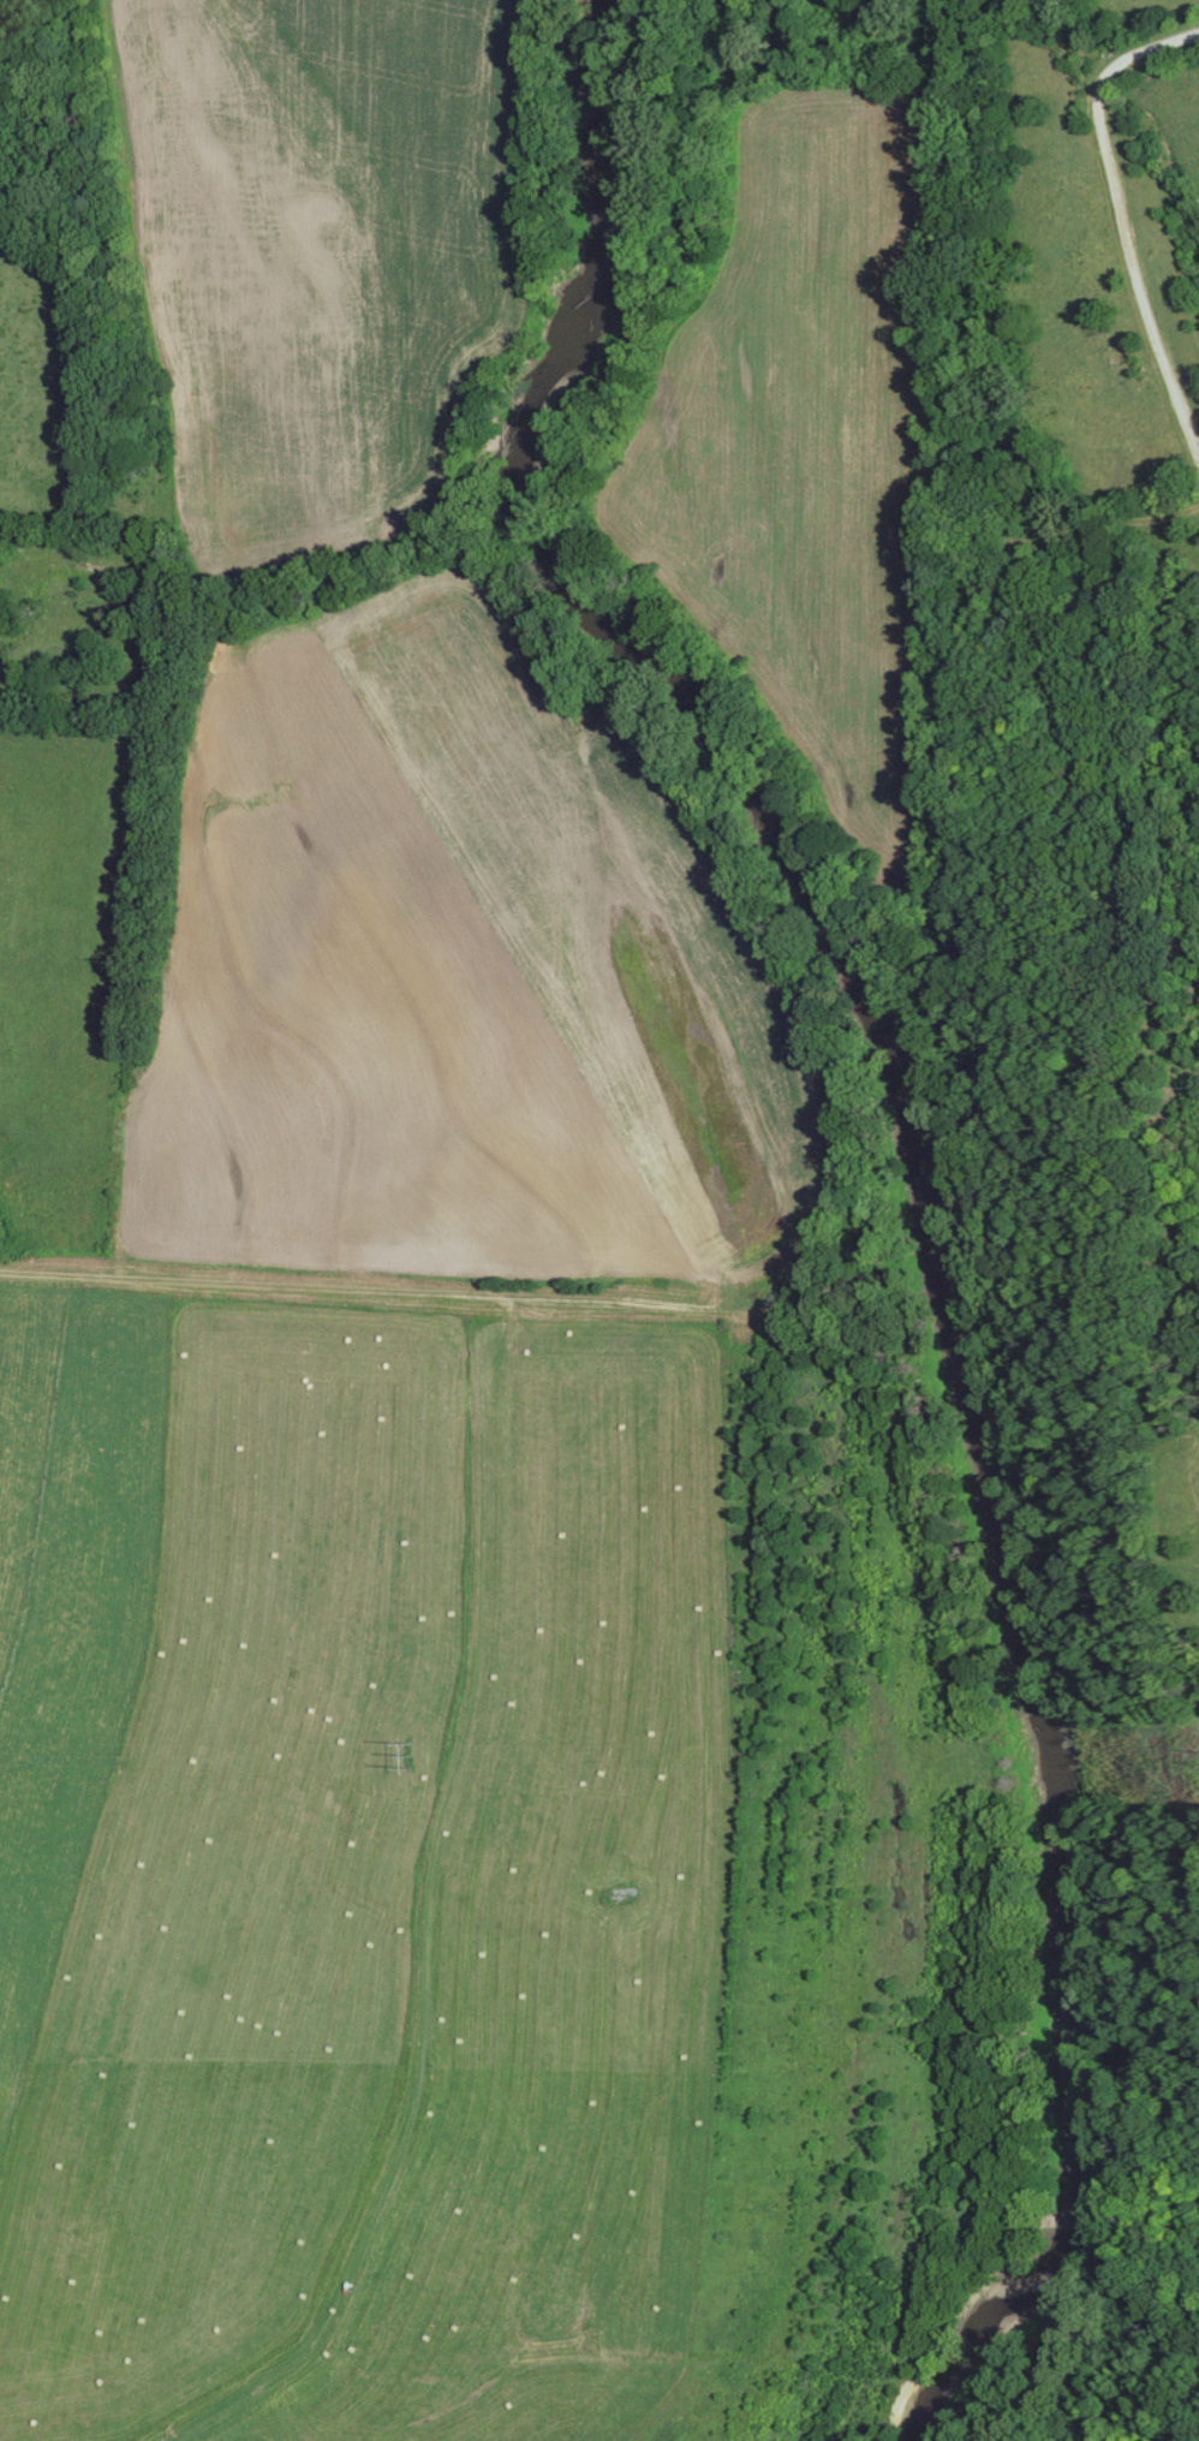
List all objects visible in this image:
road: (1122, 214)
road: (836, 1126)
river: (926, 1181)
building: (619, 1892)

